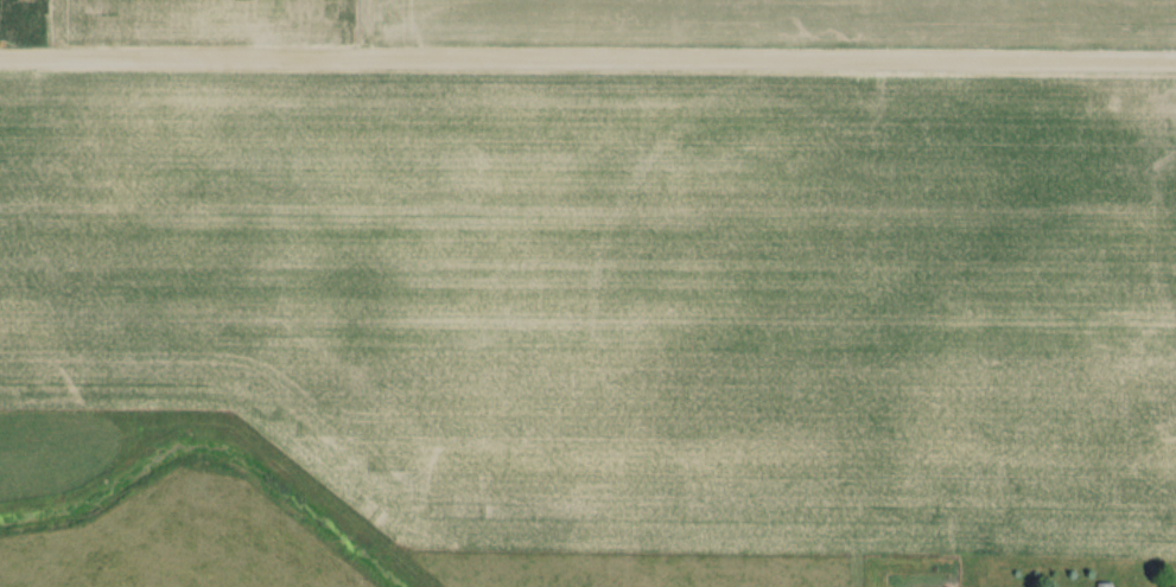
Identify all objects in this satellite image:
road: (587, 57)
building: (1110, 583)

